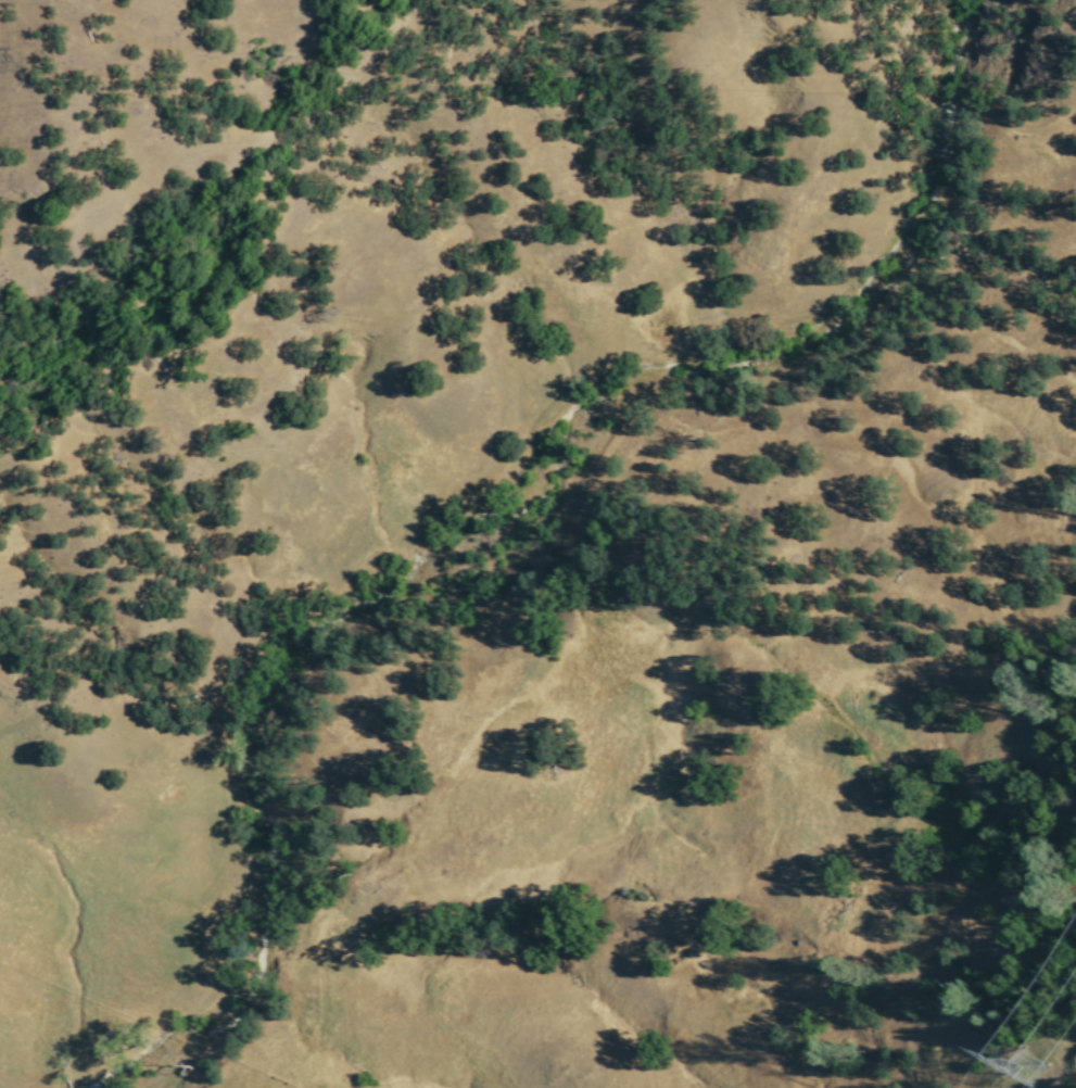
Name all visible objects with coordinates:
power tower: (1035, 1073)

